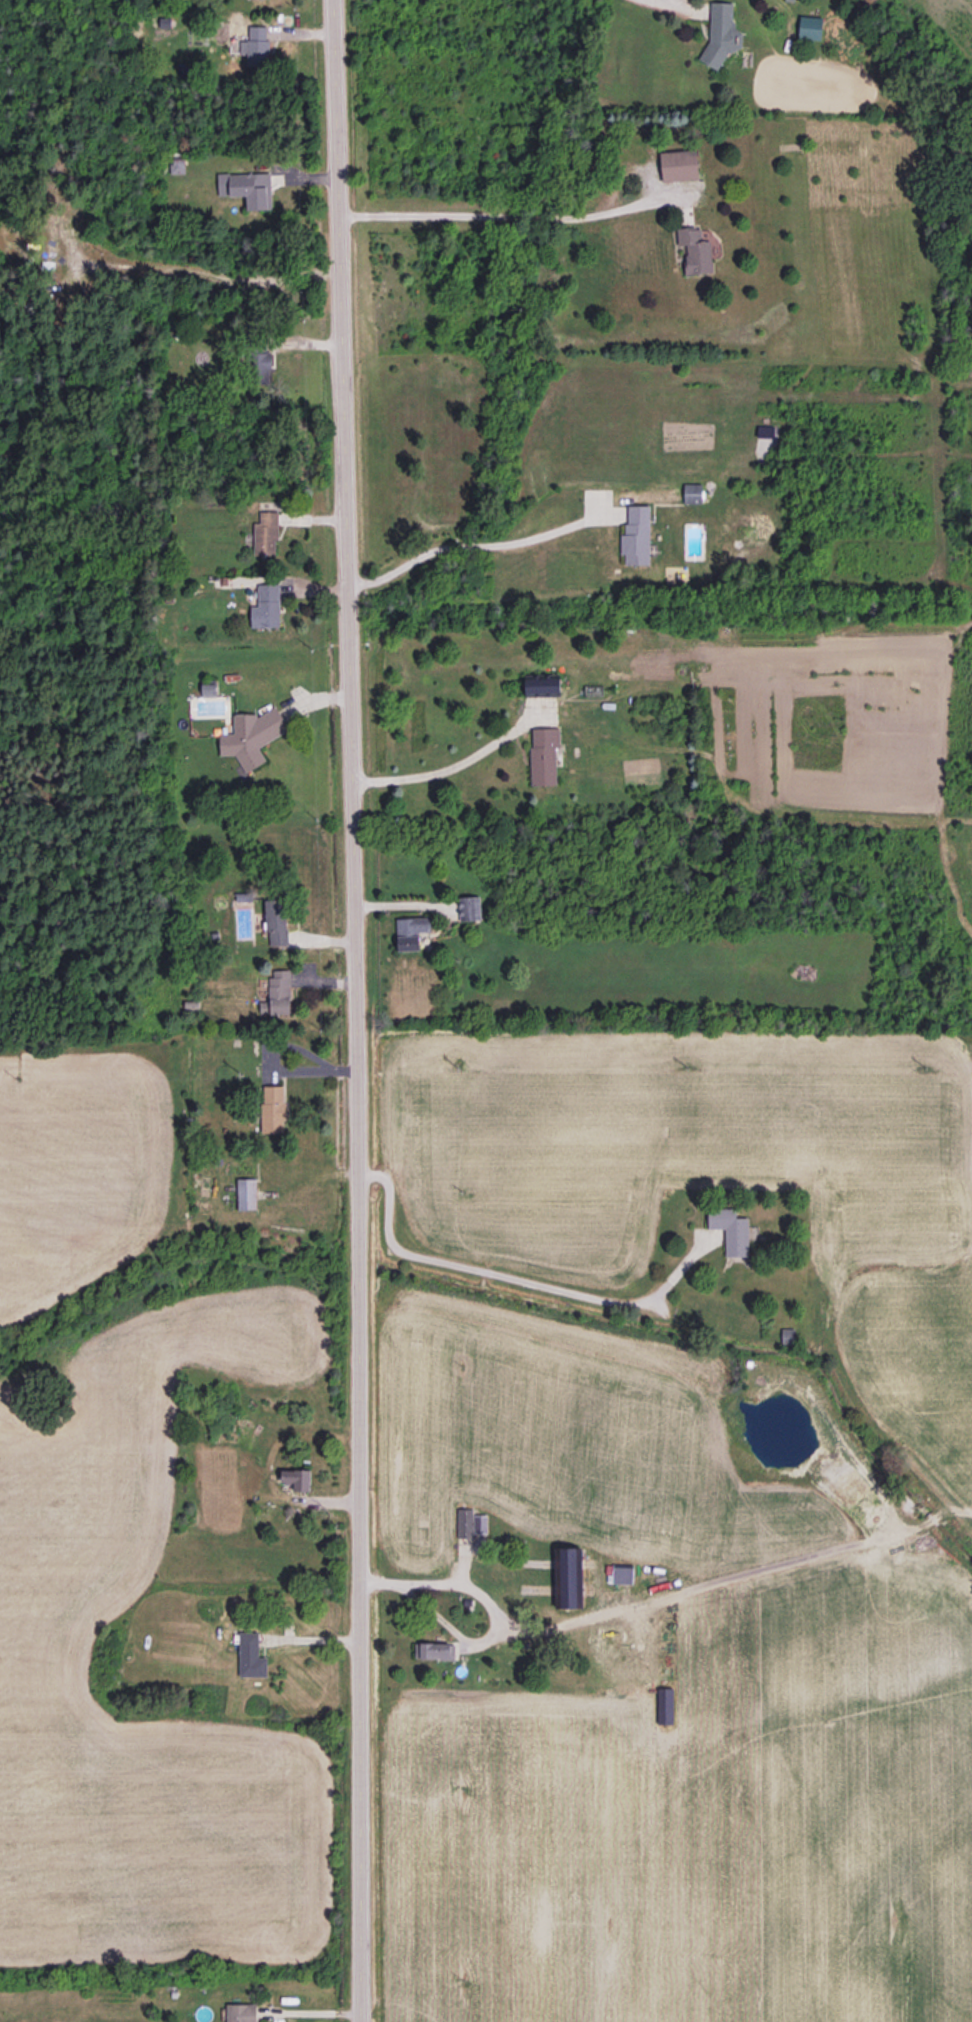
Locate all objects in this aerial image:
building: (810, 27)
building: (721, 34)
building: (257, 43)
building: (679, 164)
building: (177, 165)
building: (248, 188)
road: (500, 215)
road: (203, 274)
building: (262, 367)
building: (765, 431)
building: (266, 533)
building: (636, 536)
road: (474, 544)
building: (266, 606)
building: (542, 685)
building: (209, 689)
building: (252, 735)
building: (543, 755)
road: (453, 766)
building: (276, 922)
building: (278, 993)
road: (353, 1010)
building: (273, 1108)
building: (247, 1193)
building: (730, 1230)
road: (513, 1278)
building: (296, 1478)
building: (566, 1579)
road: (448, 1625)
road: (523, 1632)
building: (251, 1655)
building: (242, 2012)

